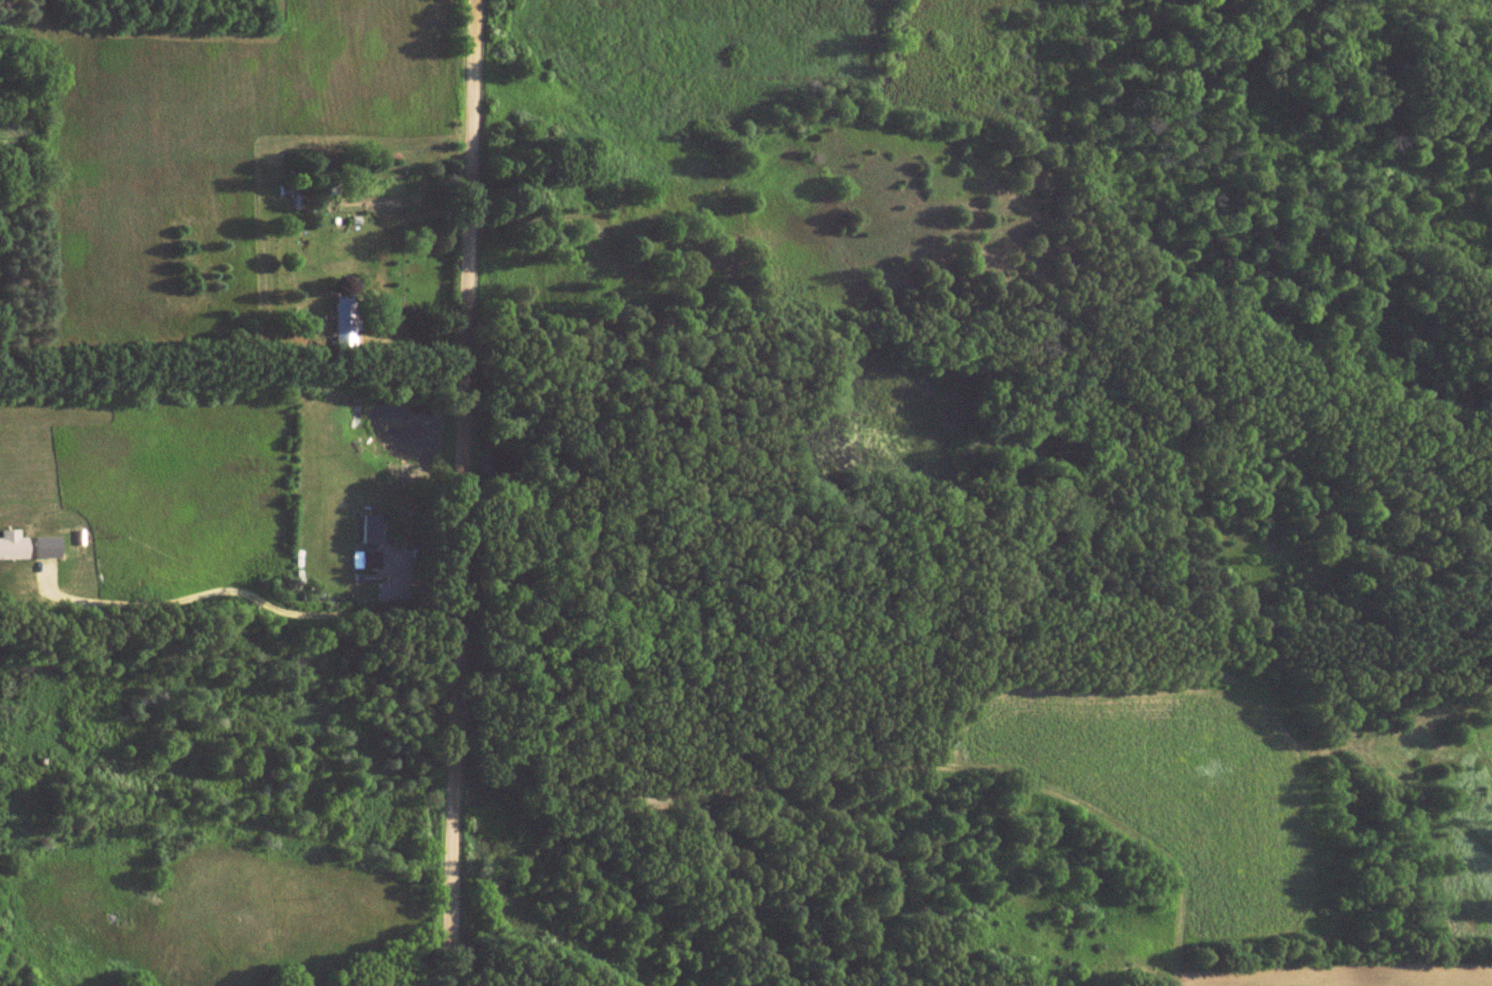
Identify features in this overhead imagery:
building: (286, 190)
building: (341, 323)
road: (410, 338)
road: (459, 492)
building: (370, 529)
building: (369, 559)
road: (273, 601)
road: (875, 767)
building: (117, 918)

